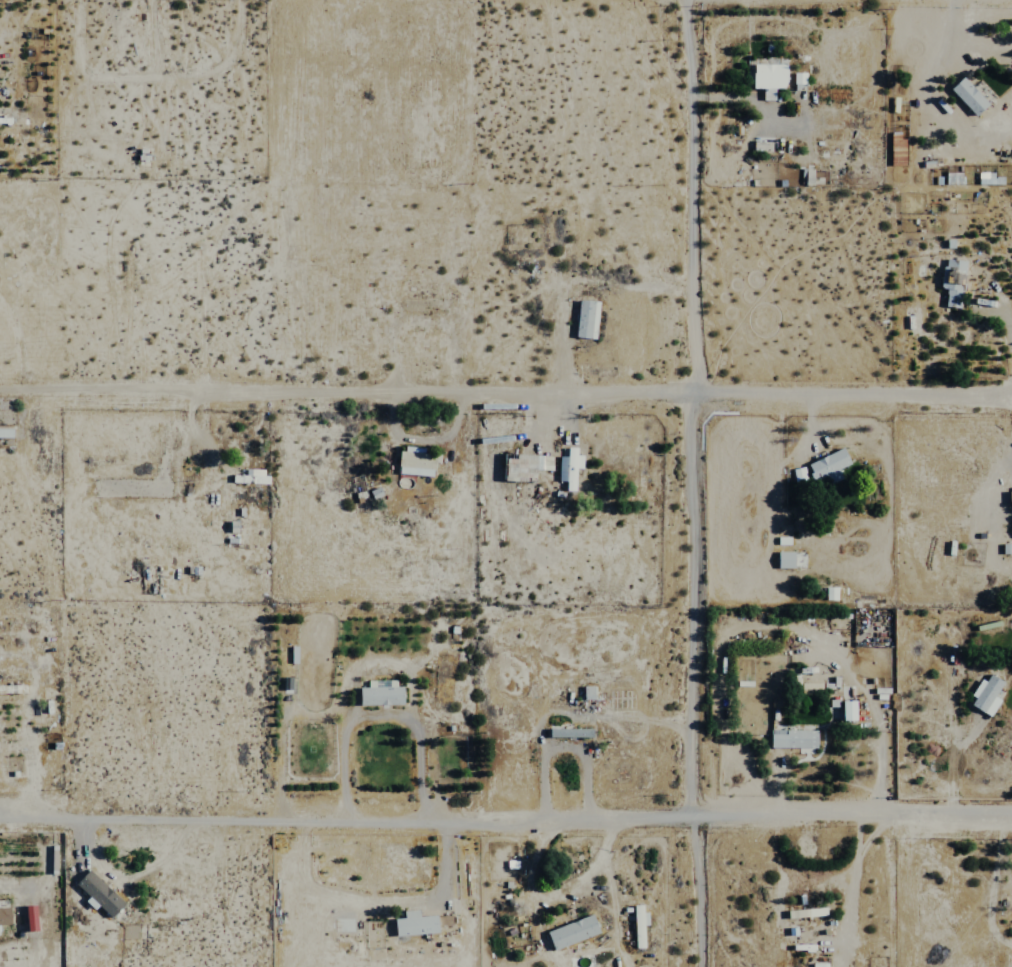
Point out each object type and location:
road: (505, 393)
road: (685, 483)
road: (564, 713)
road: (379, 716)
road: (954, 766)
road: (881, 781)
road: (505, 819)

